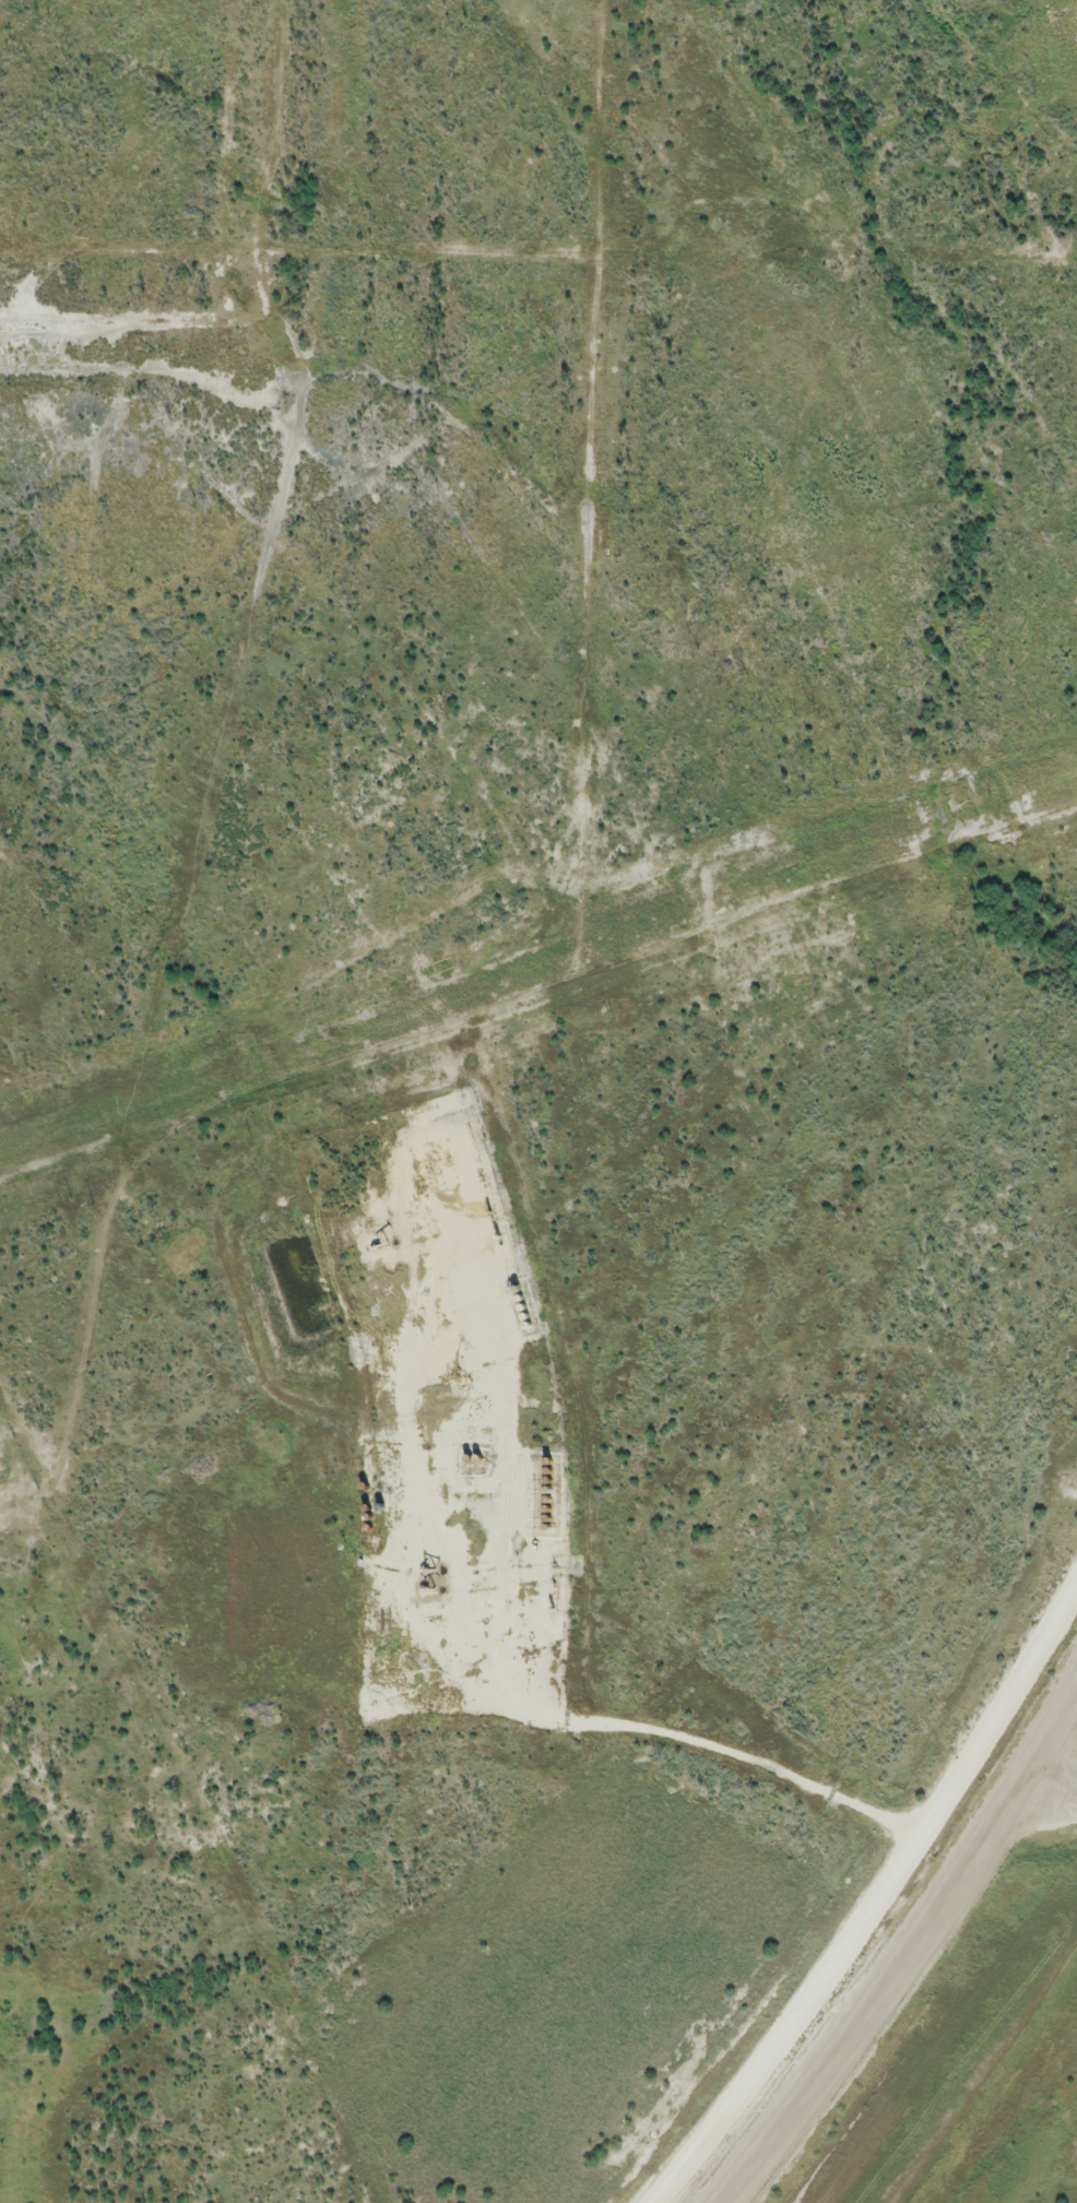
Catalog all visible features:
road: (1037, 193)
road: (655, 1732)
road: (880, 1907)
road: (912, 1959)
quarry: (922, 1970)

